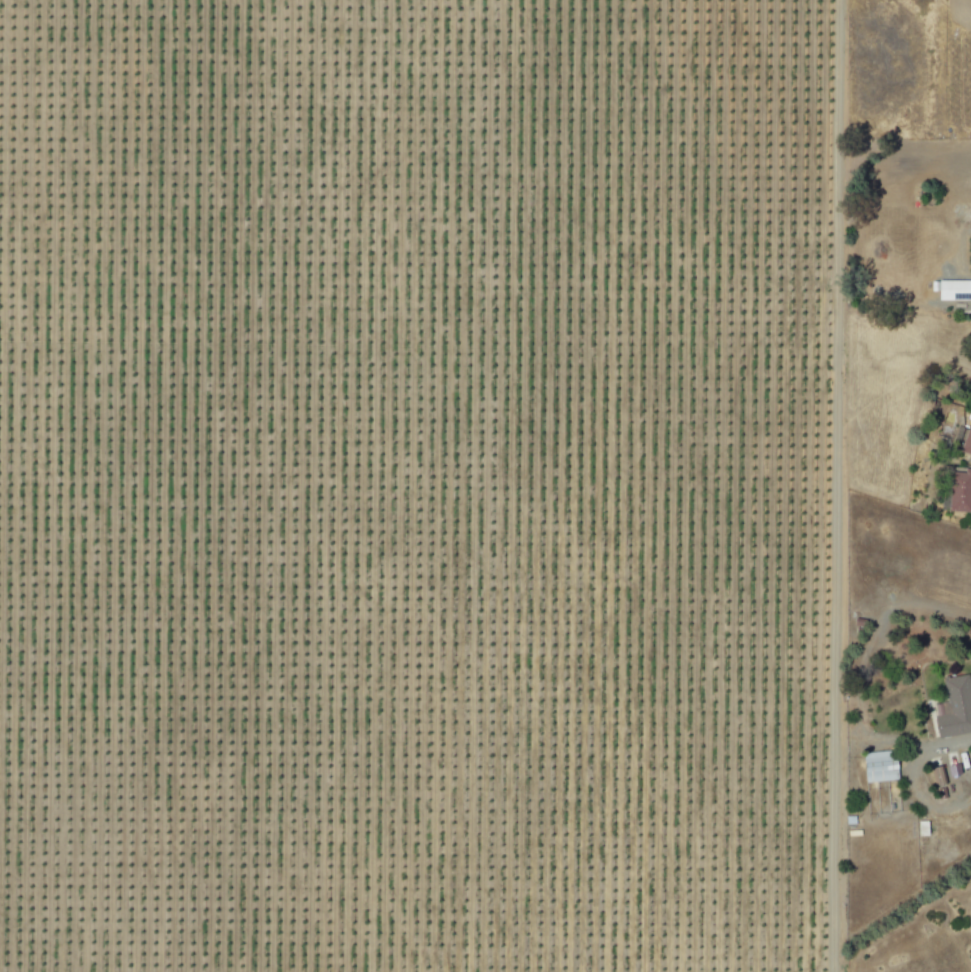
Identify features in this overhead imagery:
building: (953, 290)
building: (966, 444)
building: (957, 492)
building: (952, 708)
building: (875, 767)
building: (937, 777)

